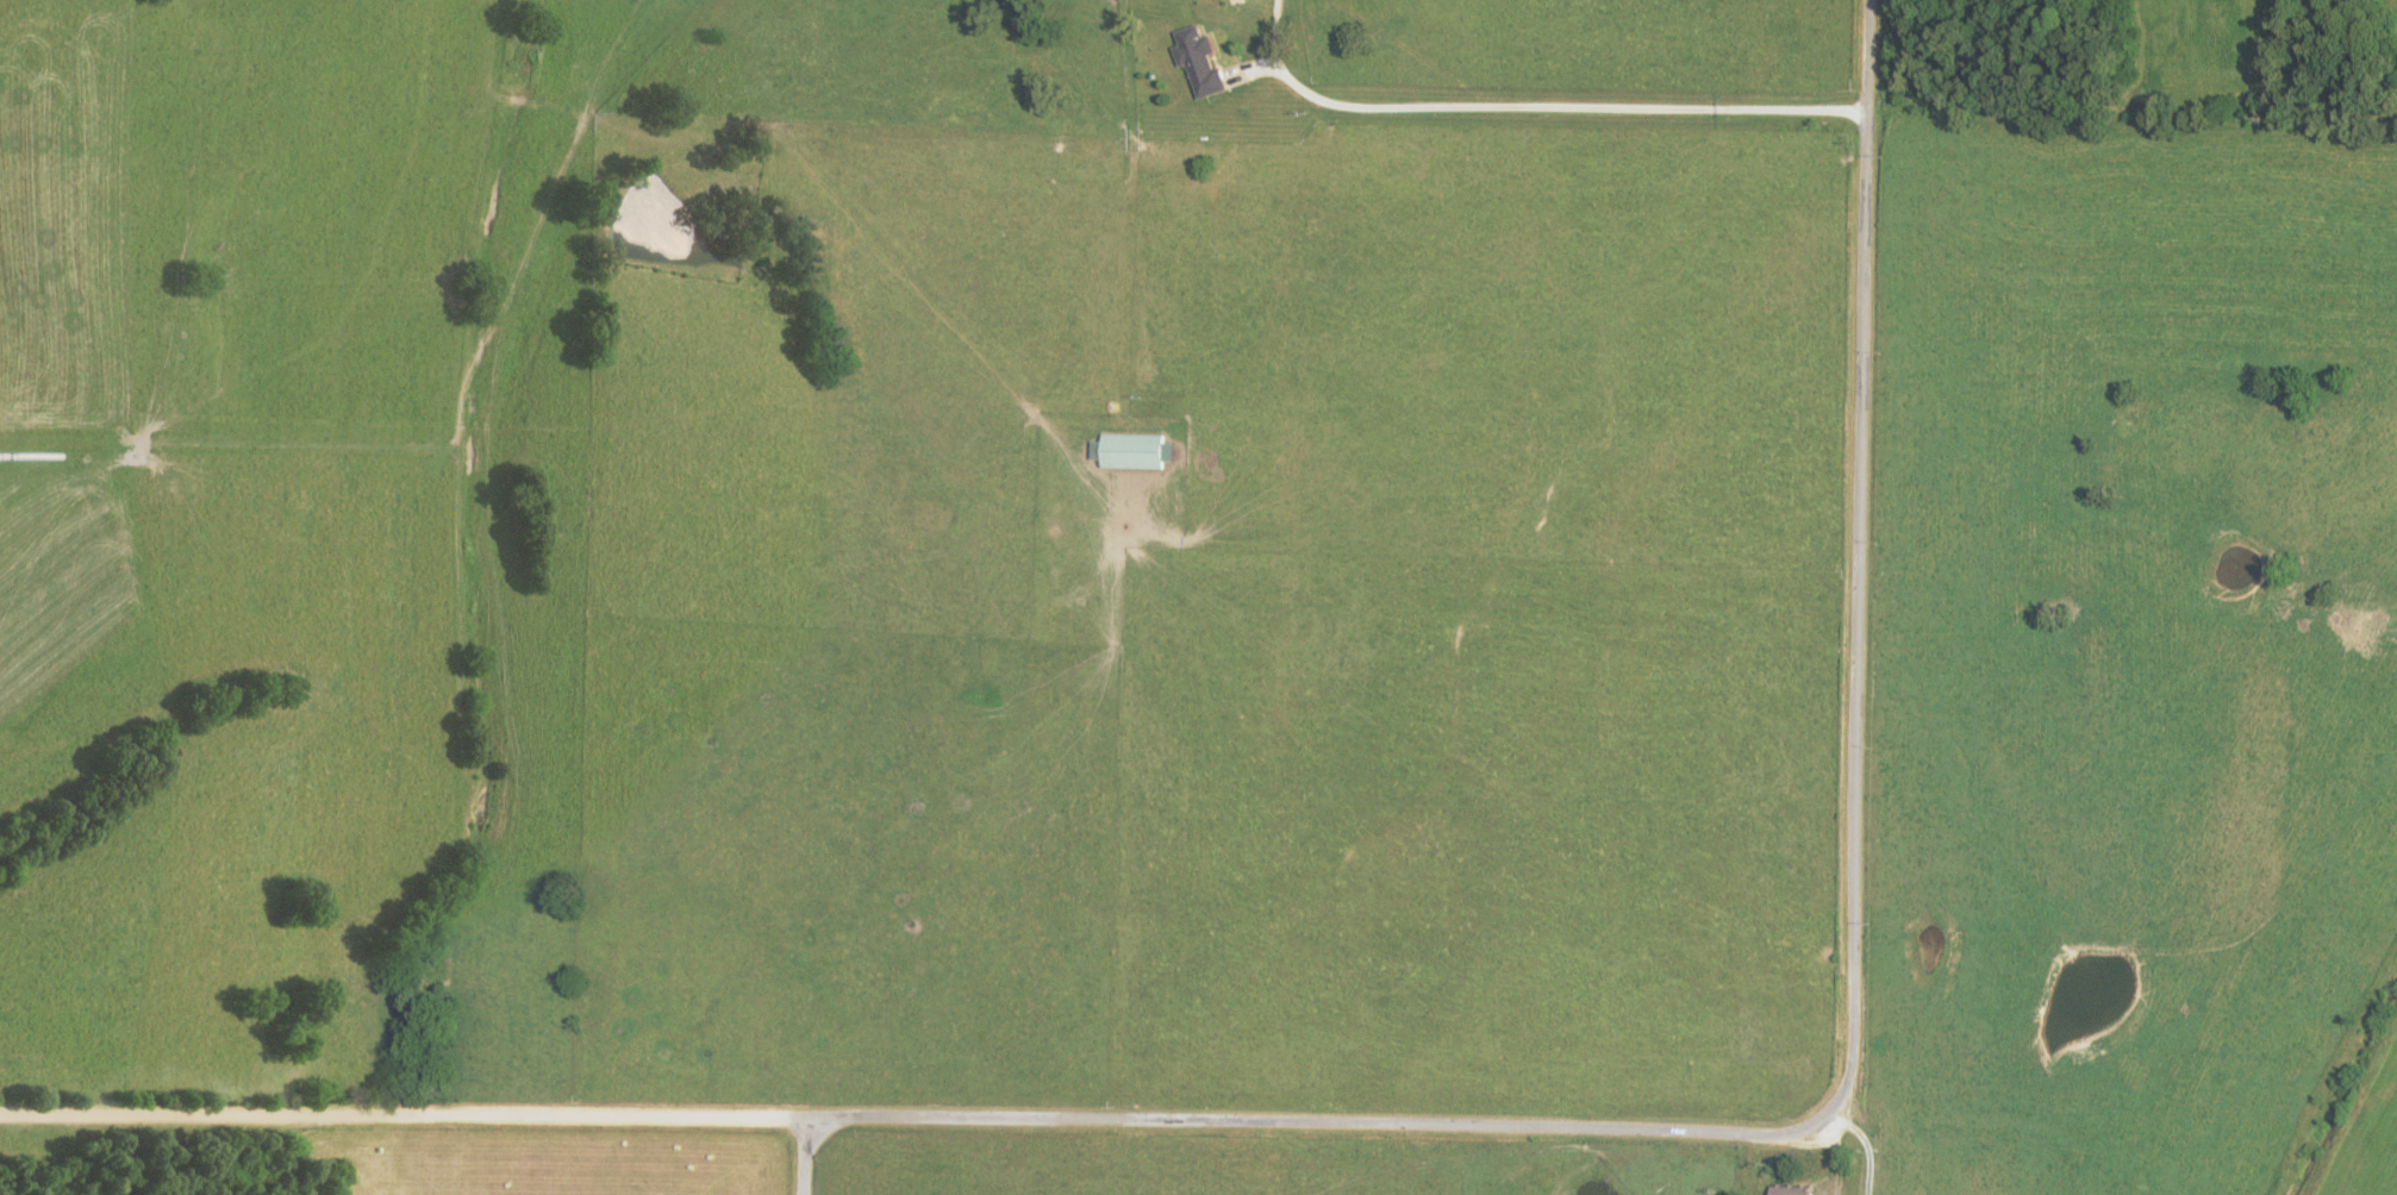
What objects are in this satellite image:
building: (1193, 62)
road: (1529, 106)
building: (1125, 451)
road: (1860, 553)
road: (925, 1121)
road: (1866, 1146)
road: (803, 1158)
building: (1785, 1190)

